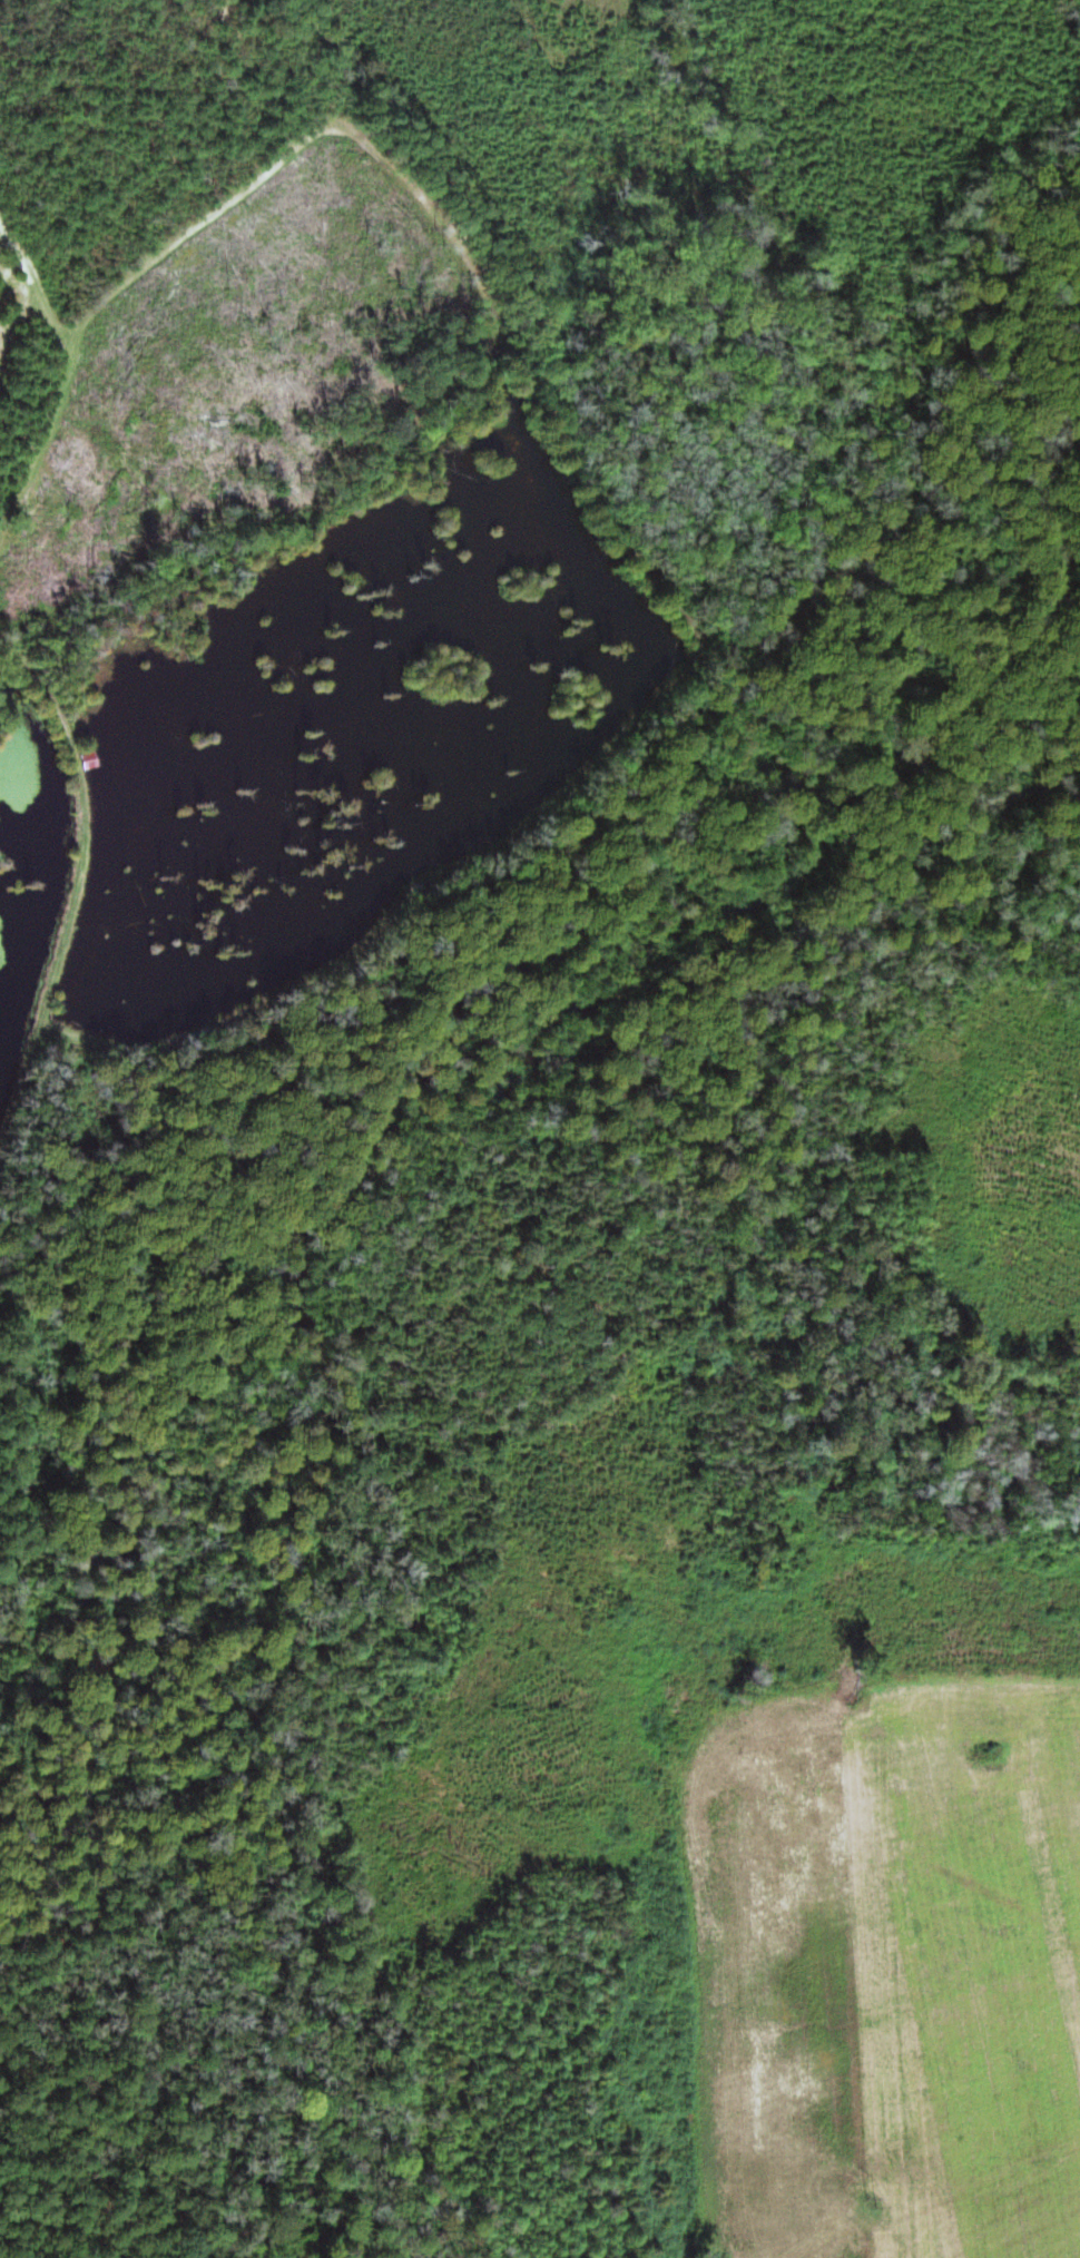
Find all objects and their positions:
building: (92, 760)
road: (114, 913)
power tower: (873, 2201)

